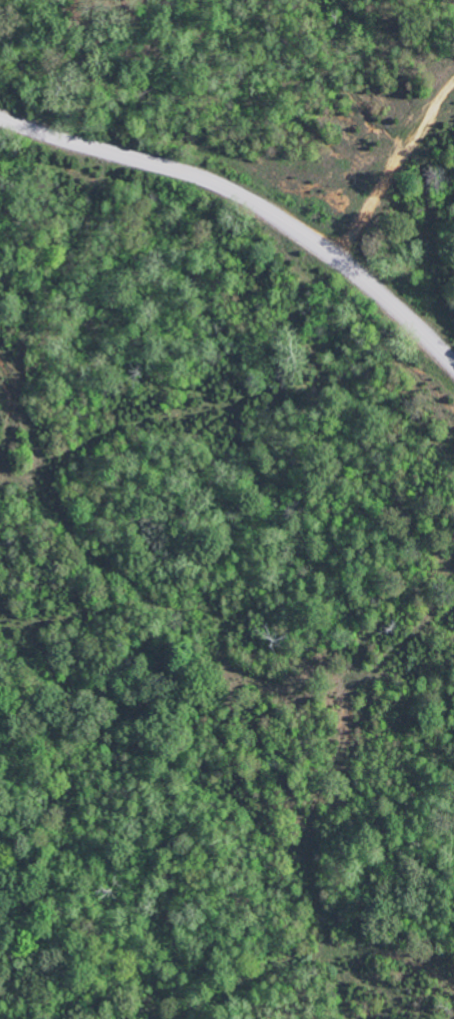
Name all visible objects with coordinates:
road: (249, 199)

